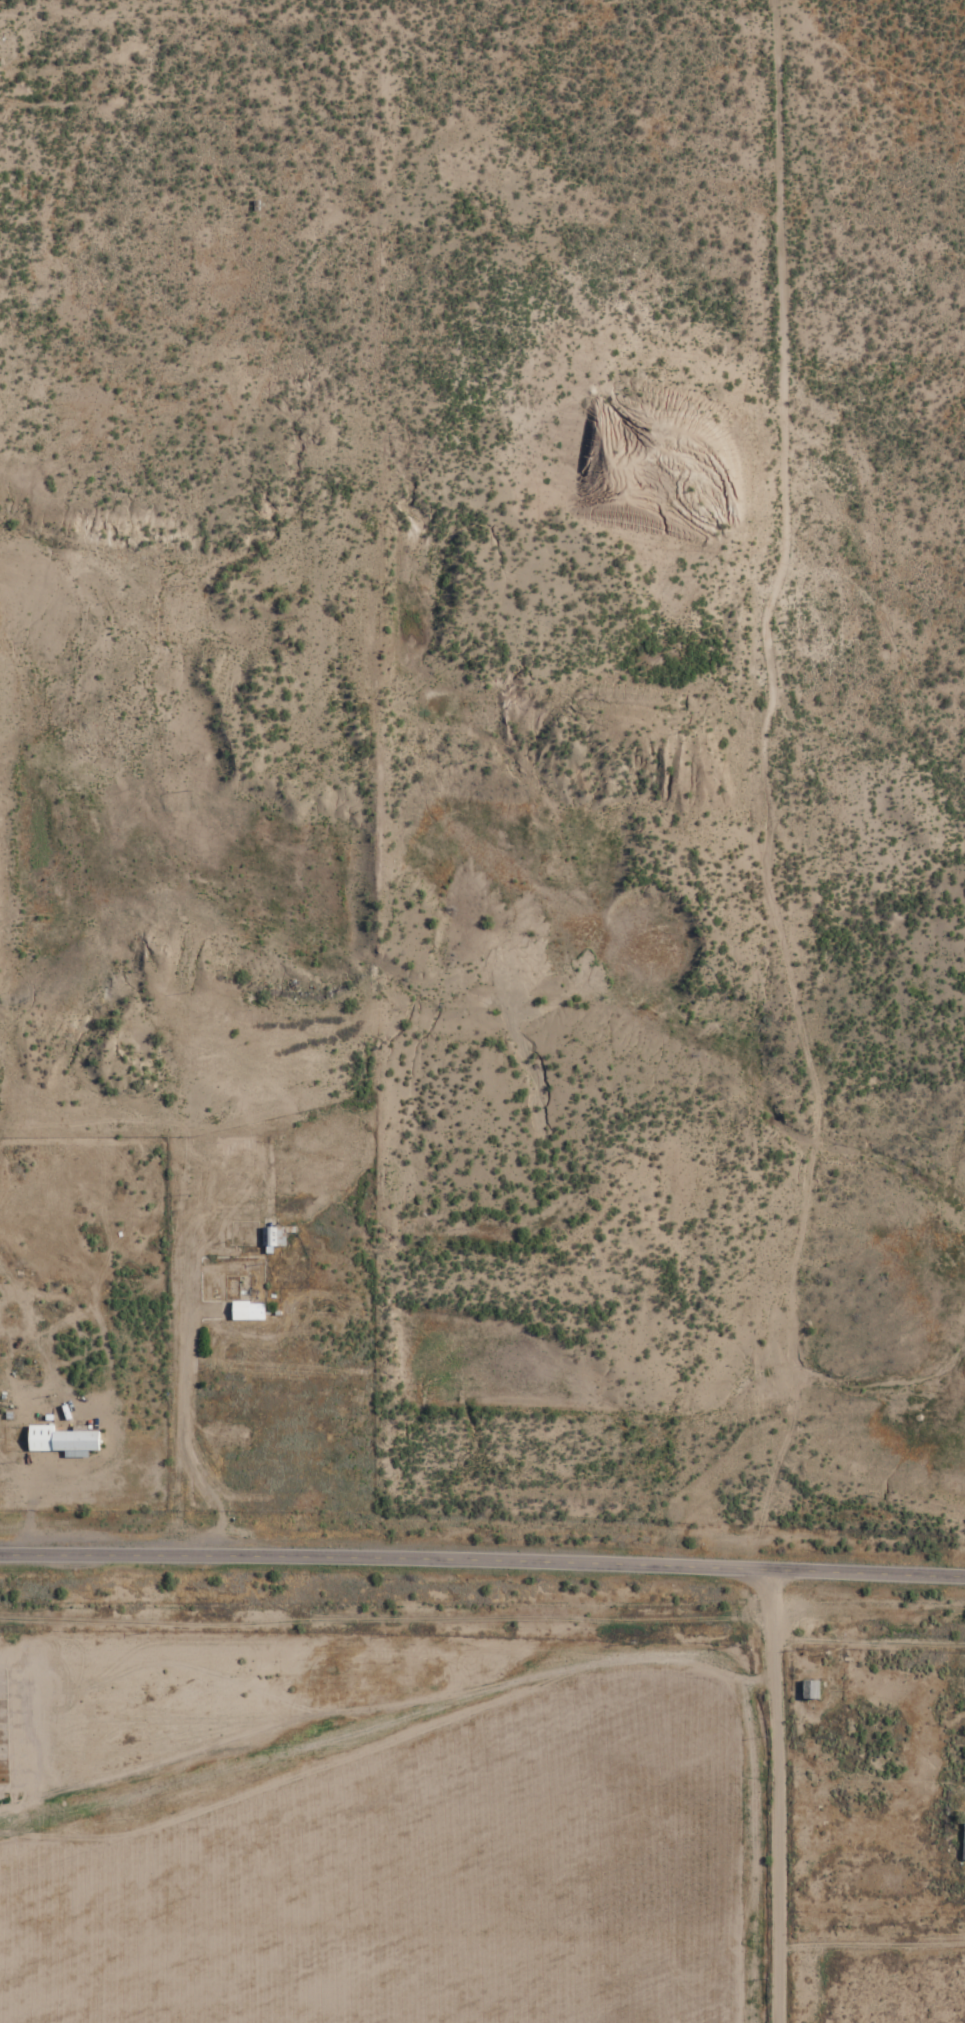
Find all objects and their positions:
building: (249, 1311)
road: (482, 1560)
road: (769, 1798)

